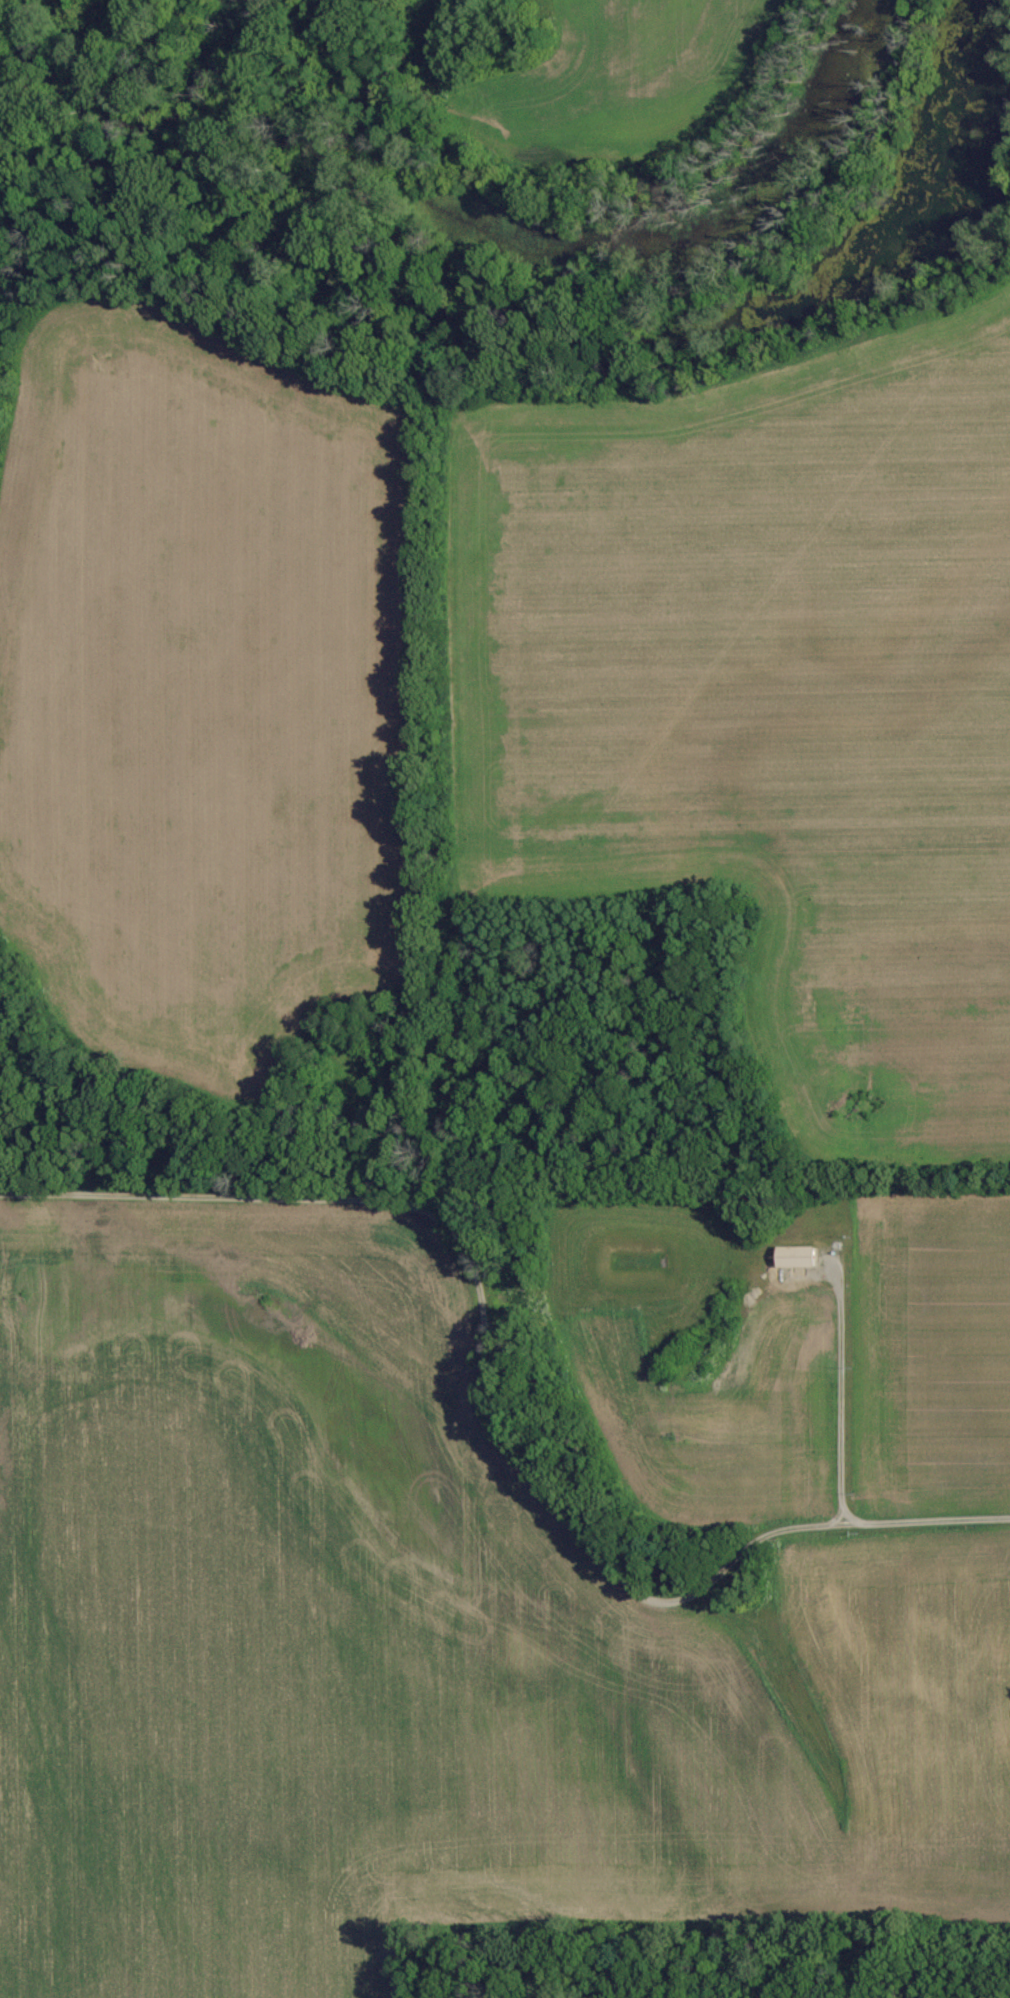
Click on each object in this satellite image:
building: (798, 1258)
road: (839, 1487)

